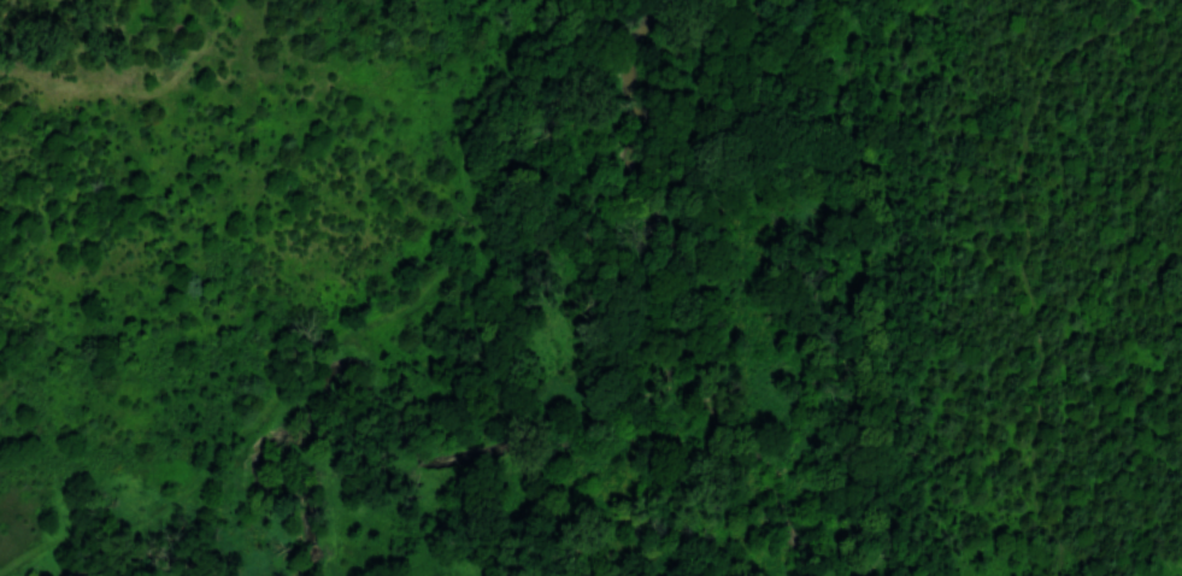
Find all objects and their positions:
road: (1027, 265)
park: (252, 296)
road: (353, 331)

